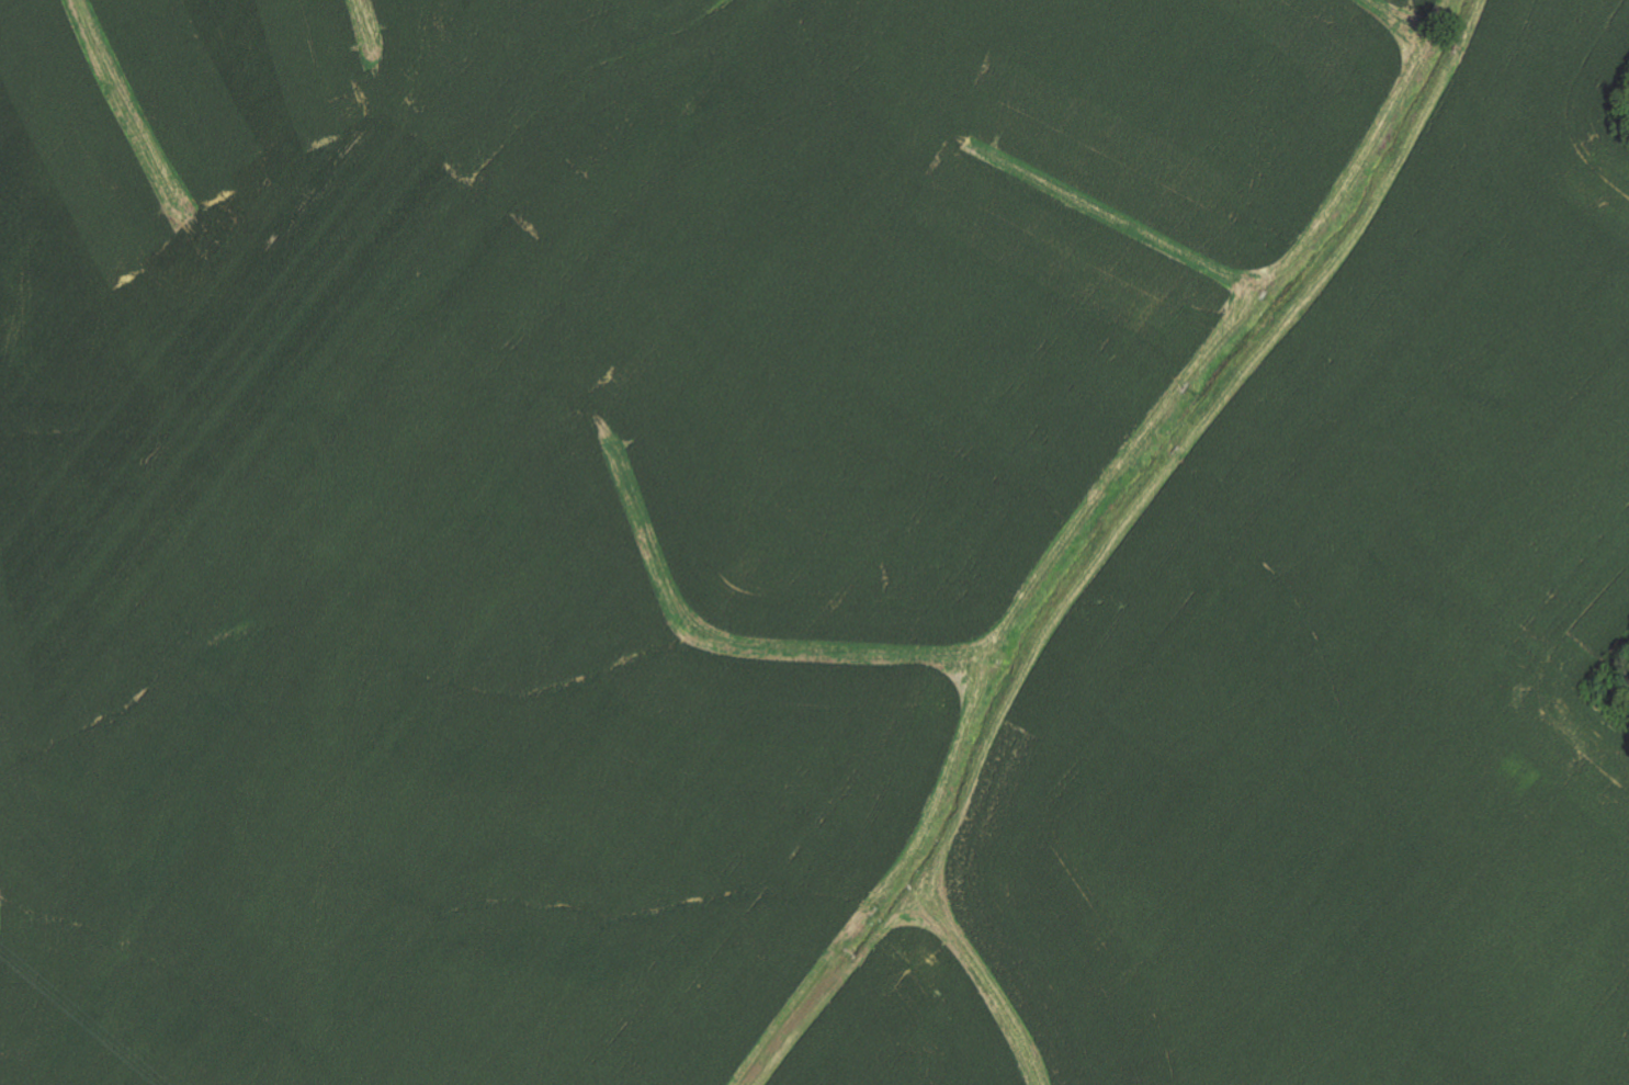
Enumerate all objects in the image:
park: (1619, 681)

